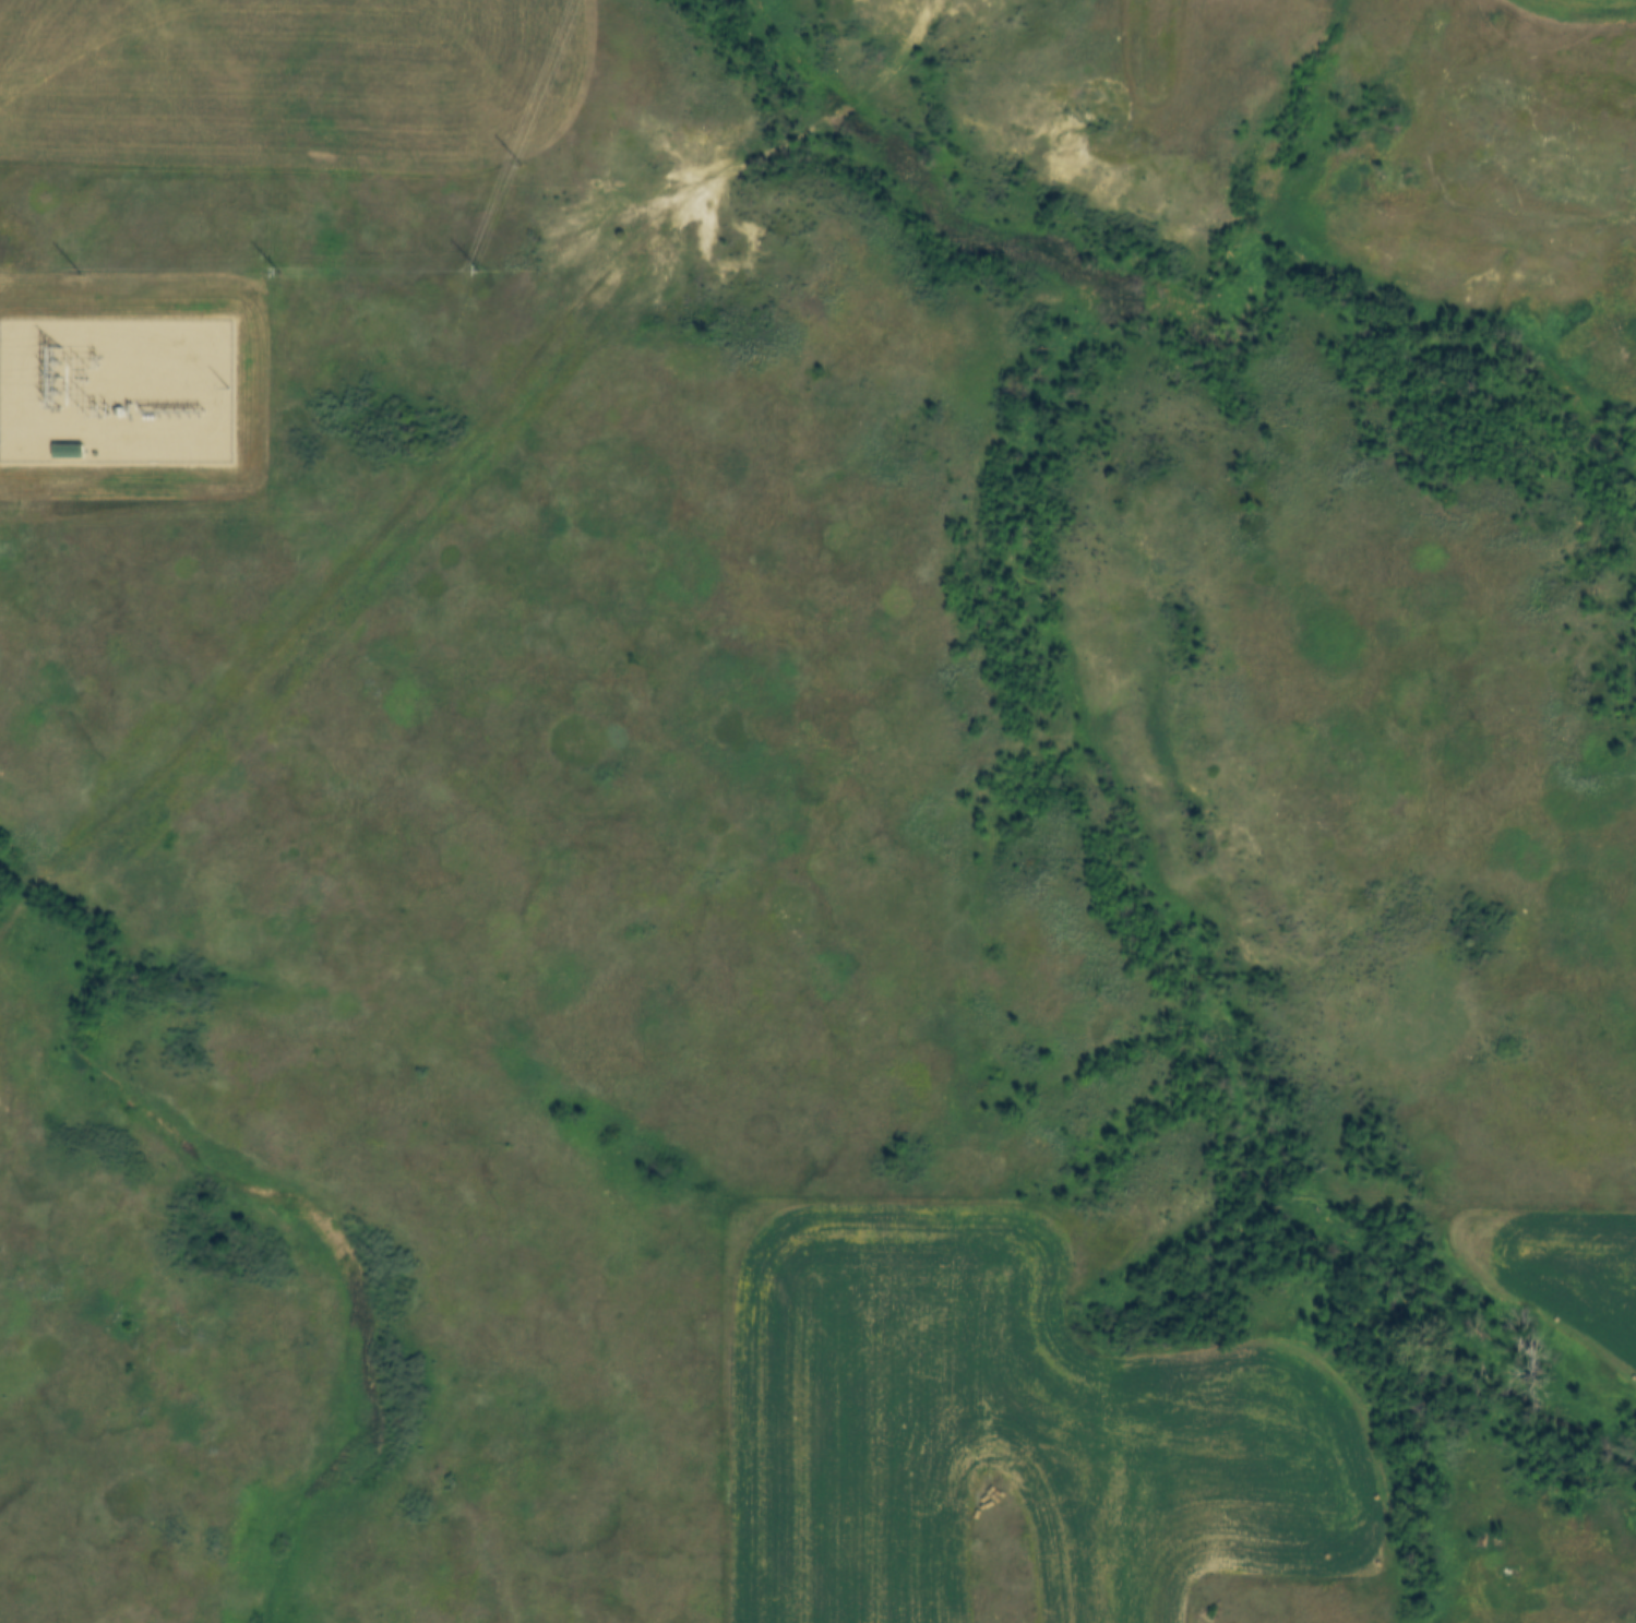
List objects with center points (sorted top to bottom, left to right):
road: (1431, 131)
power substation: (117, 390)

